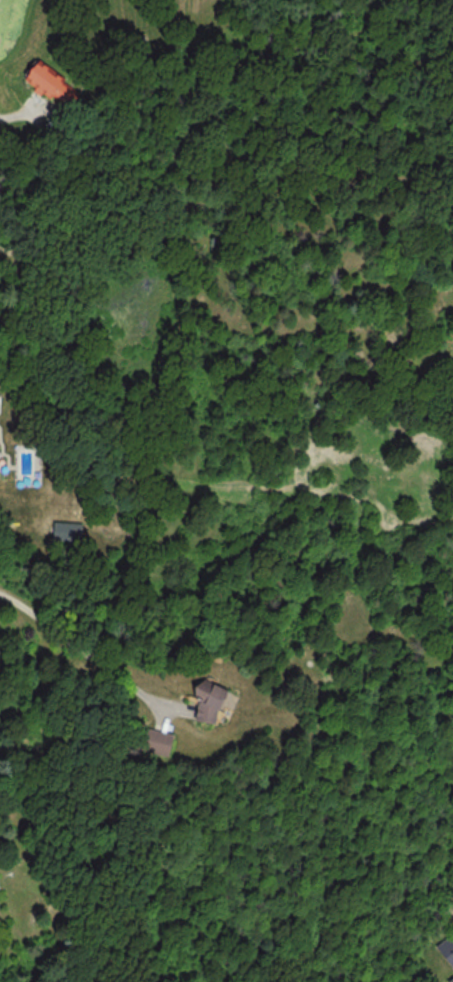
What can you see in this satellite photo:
building: (51, 85)
road: (10, 110)
building: (67, 531)
road: (90, 654)
building: (208, 705)
building: (156, 742)

